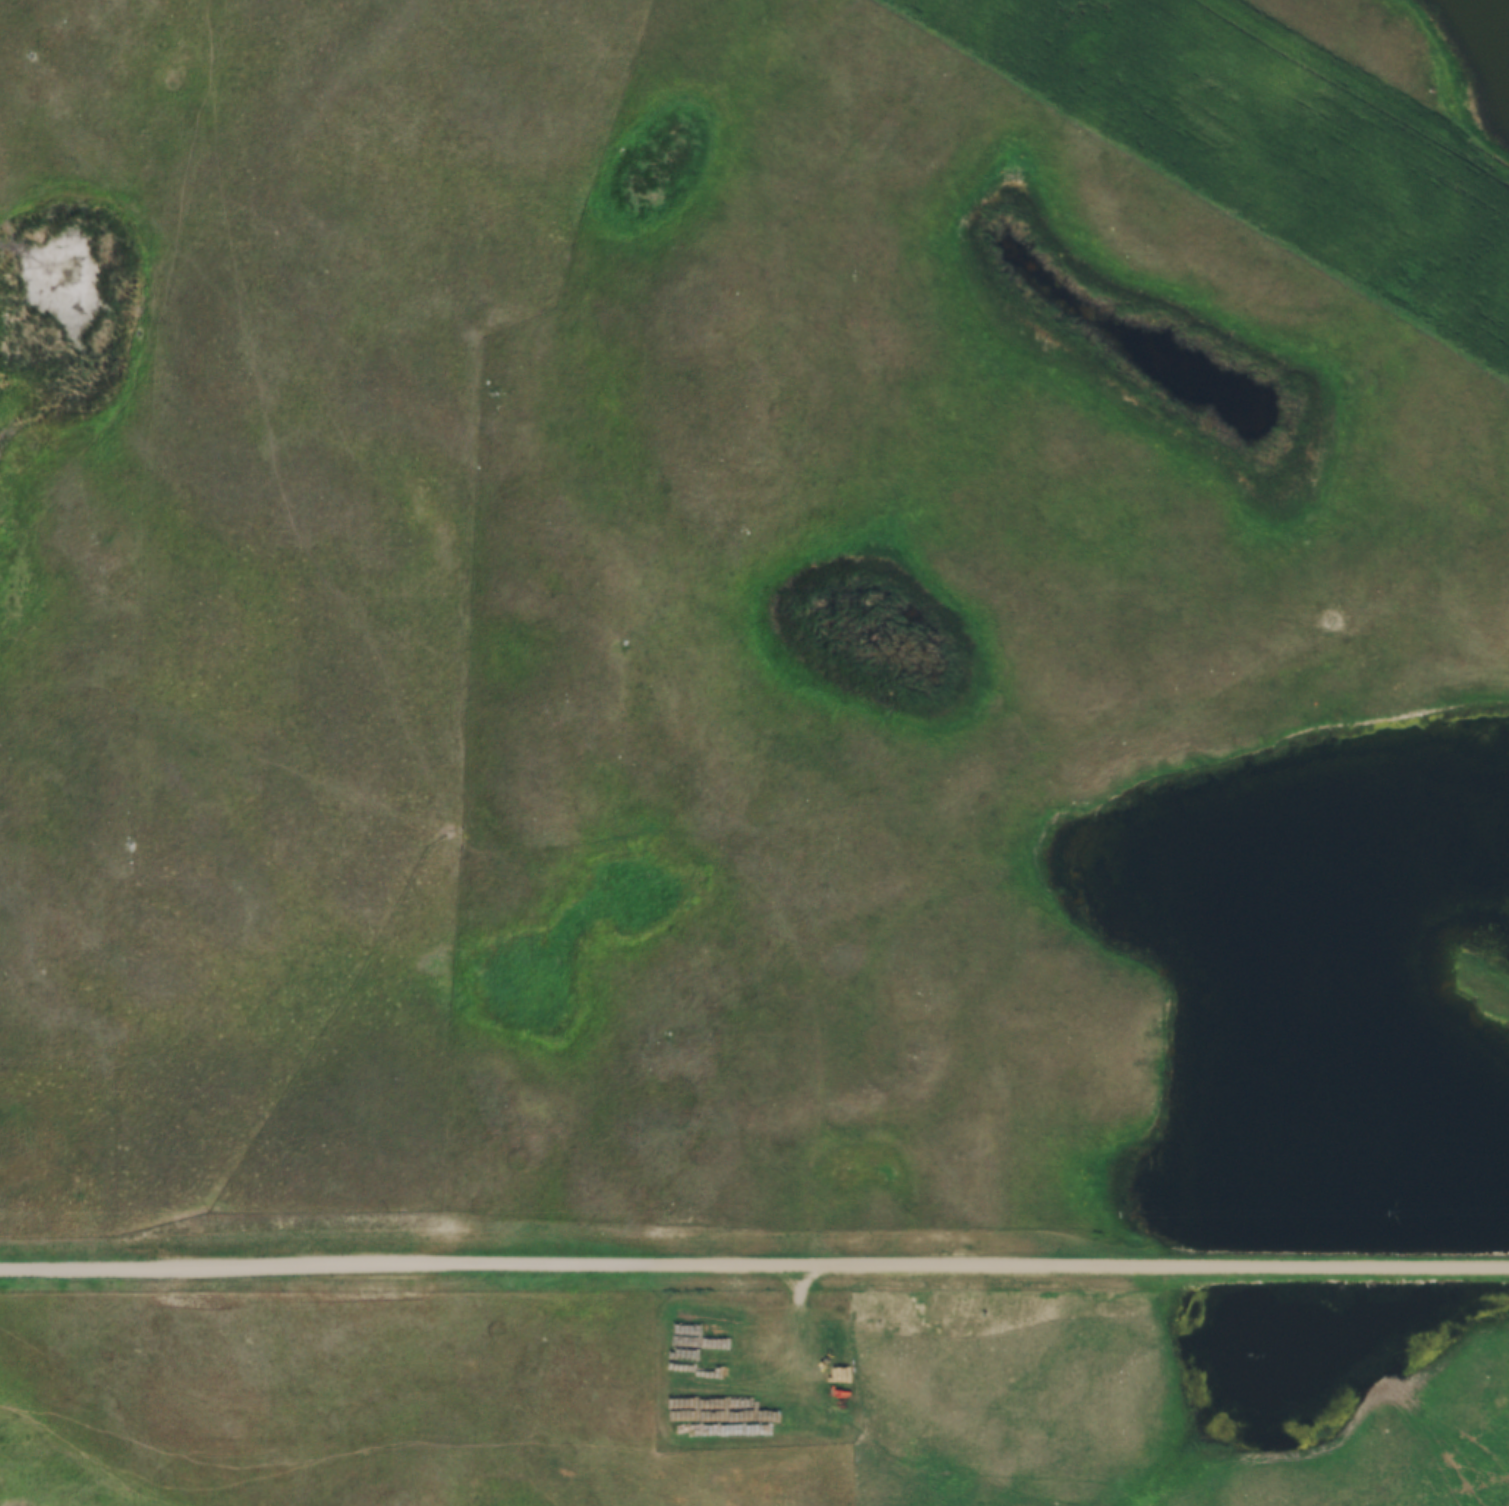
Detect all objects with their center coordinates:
road: (754, 1269)

